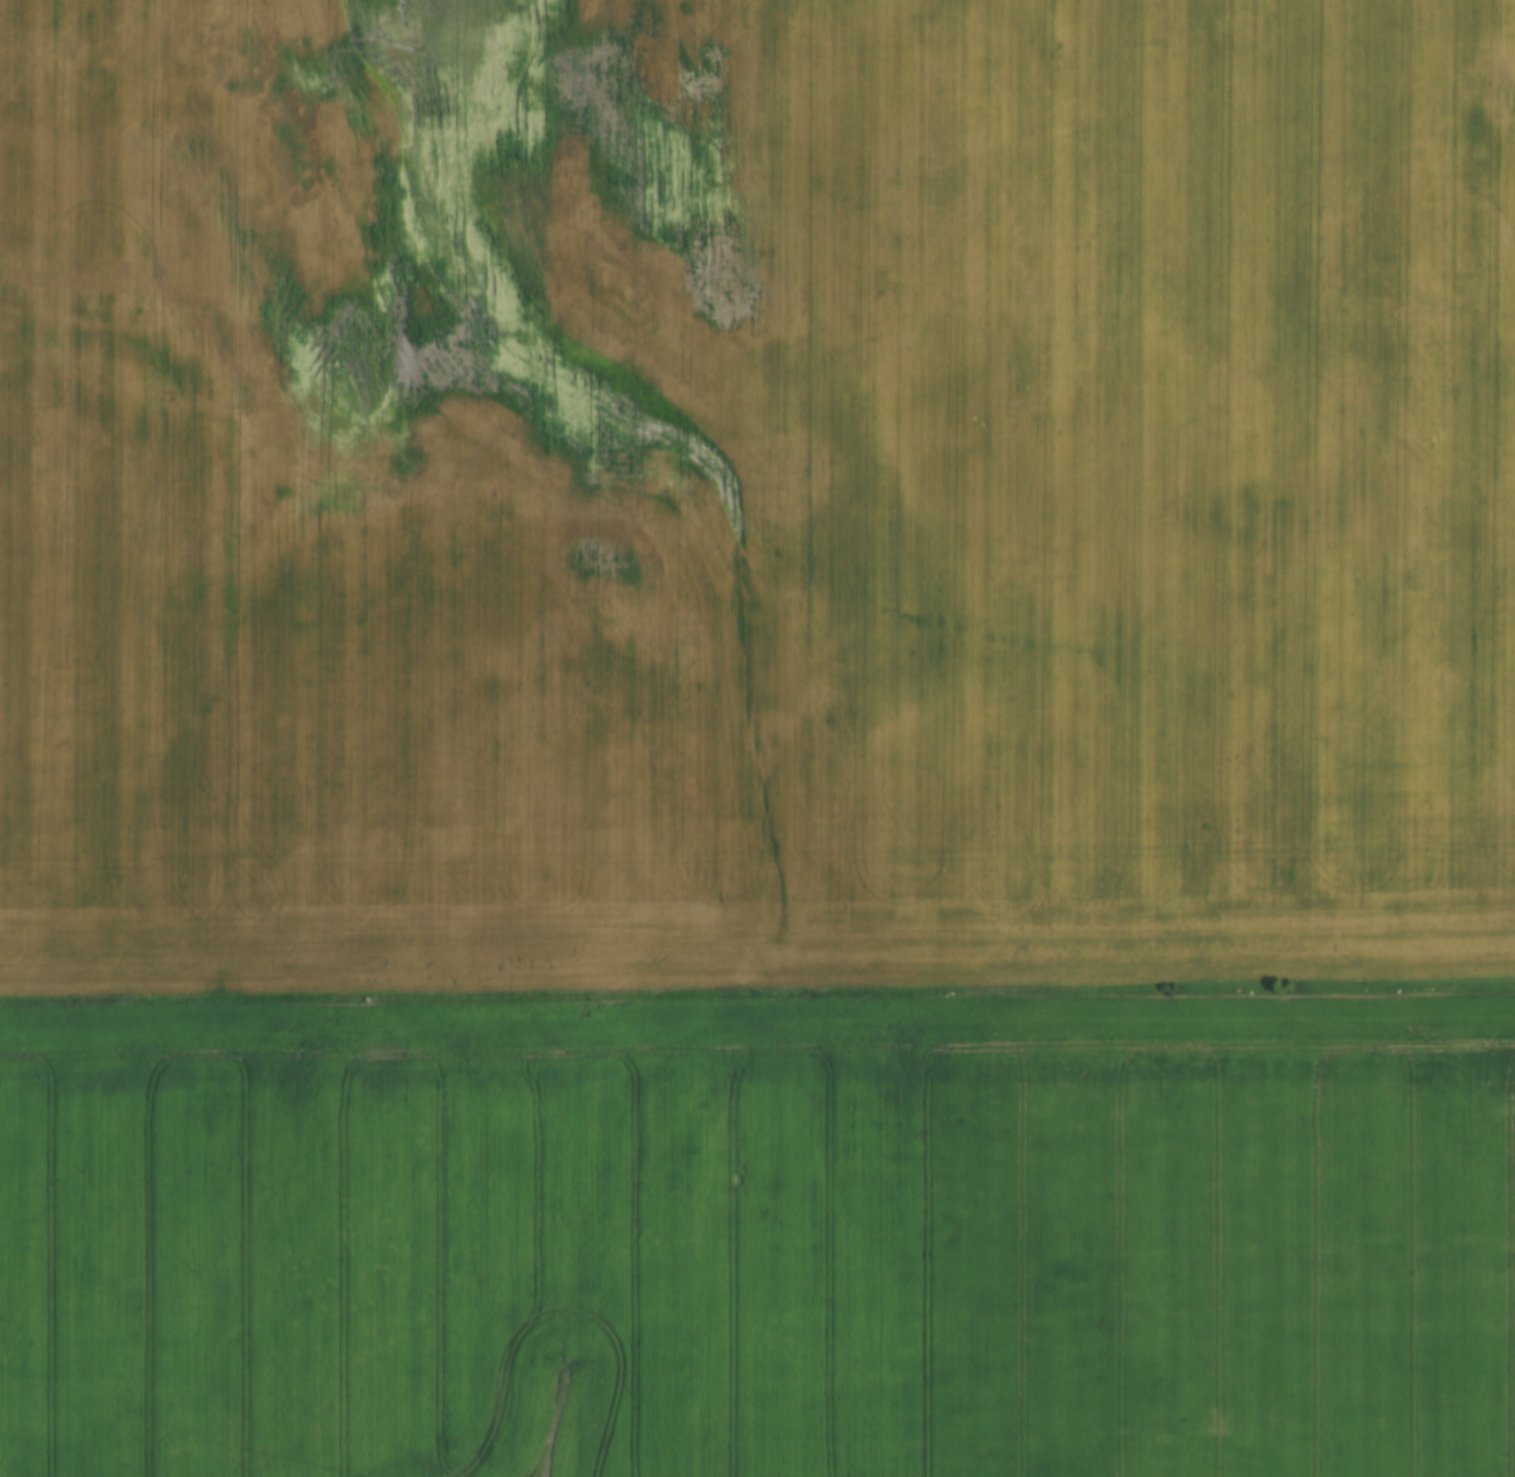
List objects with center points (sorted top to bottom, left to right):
road: (757, 992)

